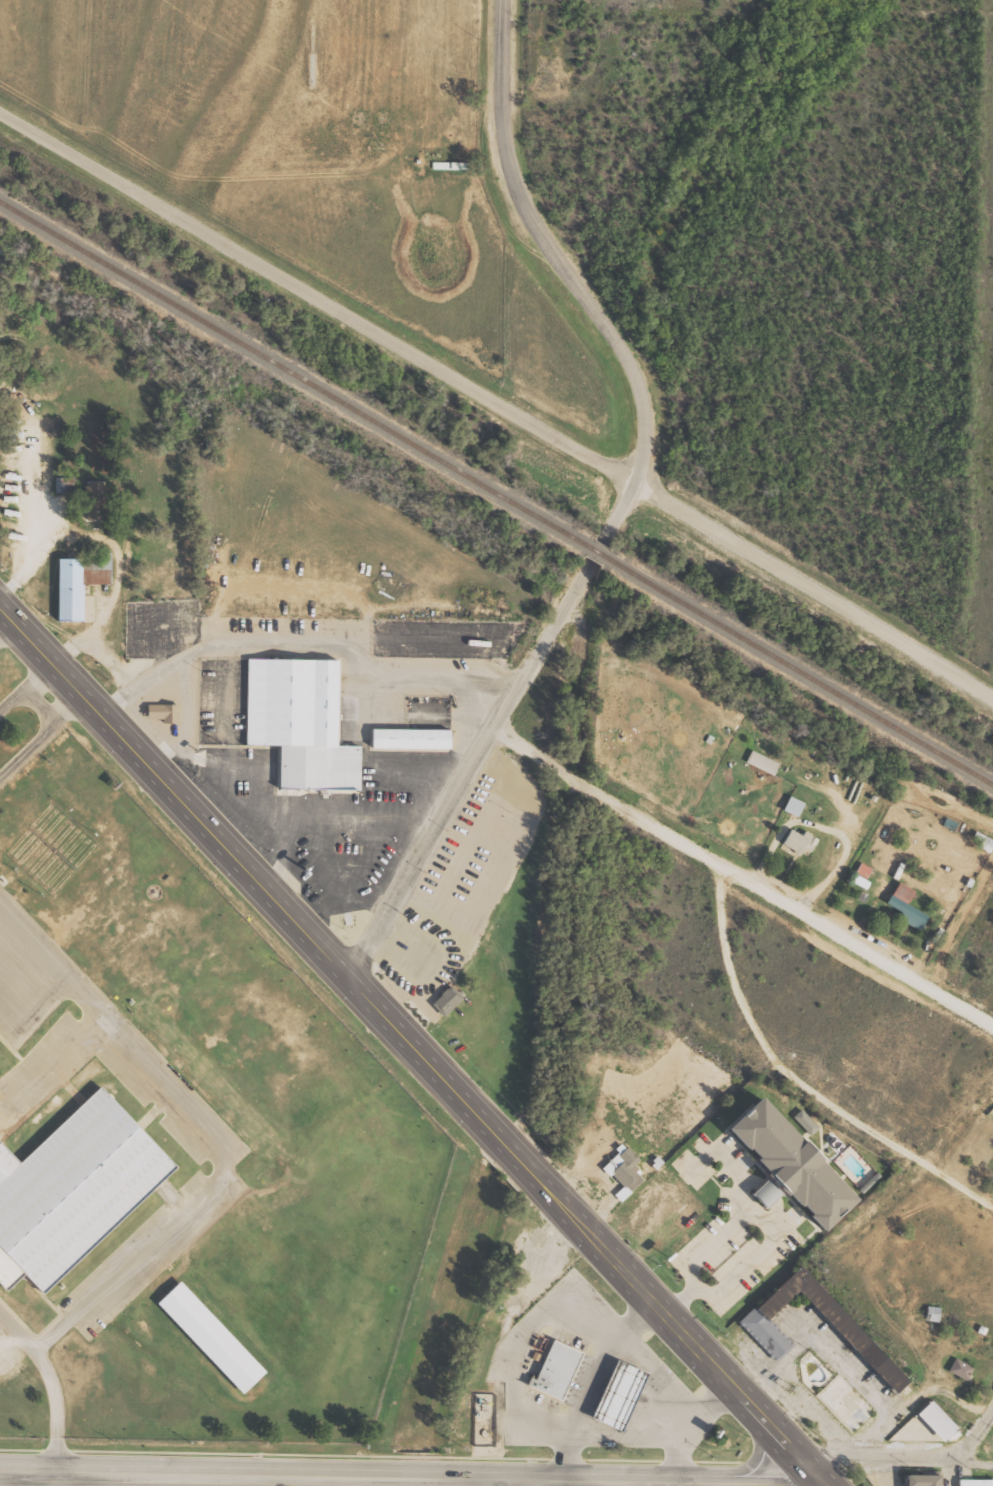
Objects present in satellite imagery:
road: (317, 294)
railway: (494, 496)
building: (97, 501)
road: (624, 503)
building: (75, 582)
road: (815, 585)
road: (28, 692)
building: (167, 712)
building: (296, 729)
building: (403, 747)
building: (765, 762)
building: (796, 806)
building: (803, 841)
building: (865, 870)
road: (742, 876)
building: (909, 906)
road: (731, 981)
building: (449, 1000)
road: (415, 1044)
road: (892, 1137)
building: (624, 1172)
building: (784, 1177)
building: (70, 1185)
building: (762, 1336)
building: (207, 1343)
building: (964, 1367)
building: (550, 1377)
road: (53, 1381)
building: (613, 1400)
gas station: (613, 1400)
building: (941, 1419)
road: (911, 1456)
road: (735, 1470)
road: (331, 1478)
building: (928, 1479)
building: (977, 1481)
road: (499, 1484)

